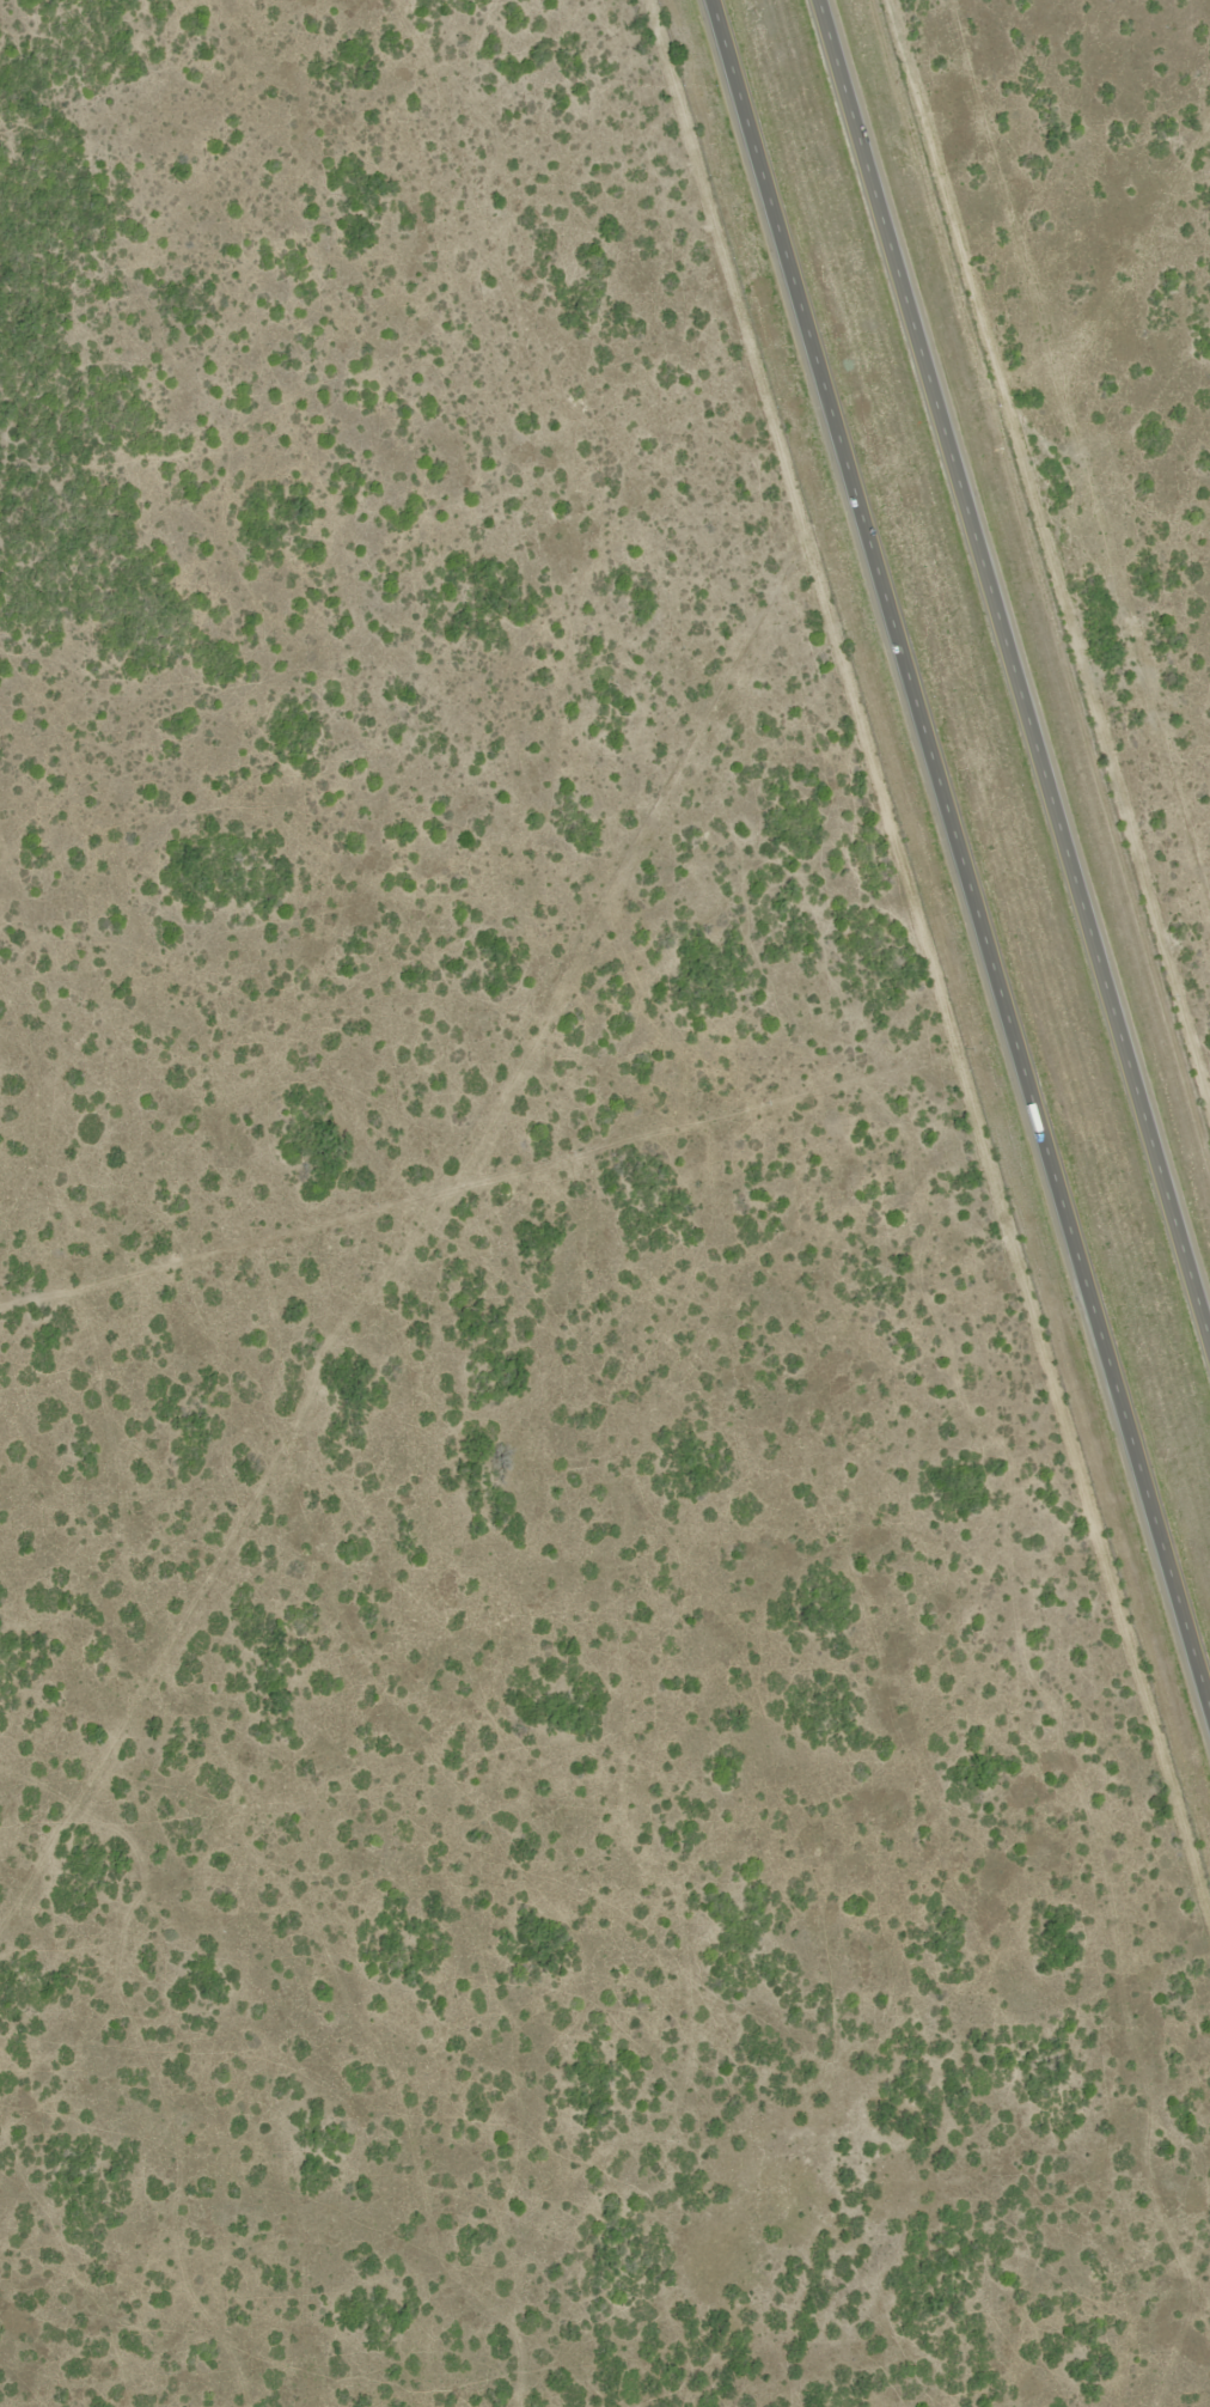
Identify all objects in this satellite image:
road: (1016, 663)
road: (962, 846)

